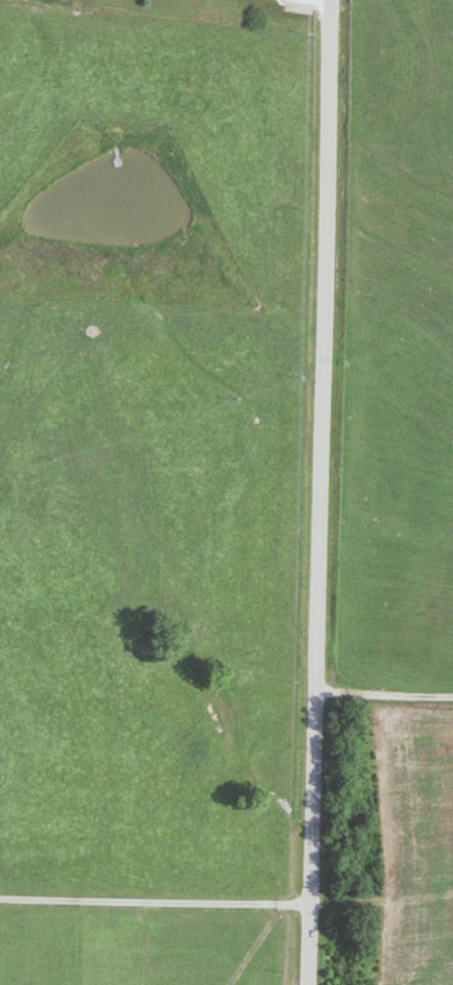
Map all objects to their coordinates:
road: (319, 492)
road: (155, 900)

